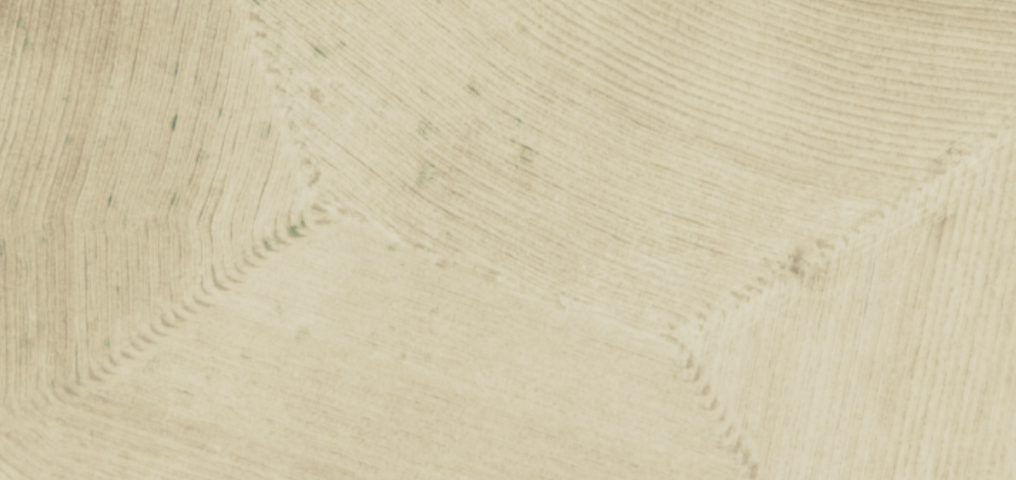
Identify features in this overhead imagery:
crop: (508, 240)

